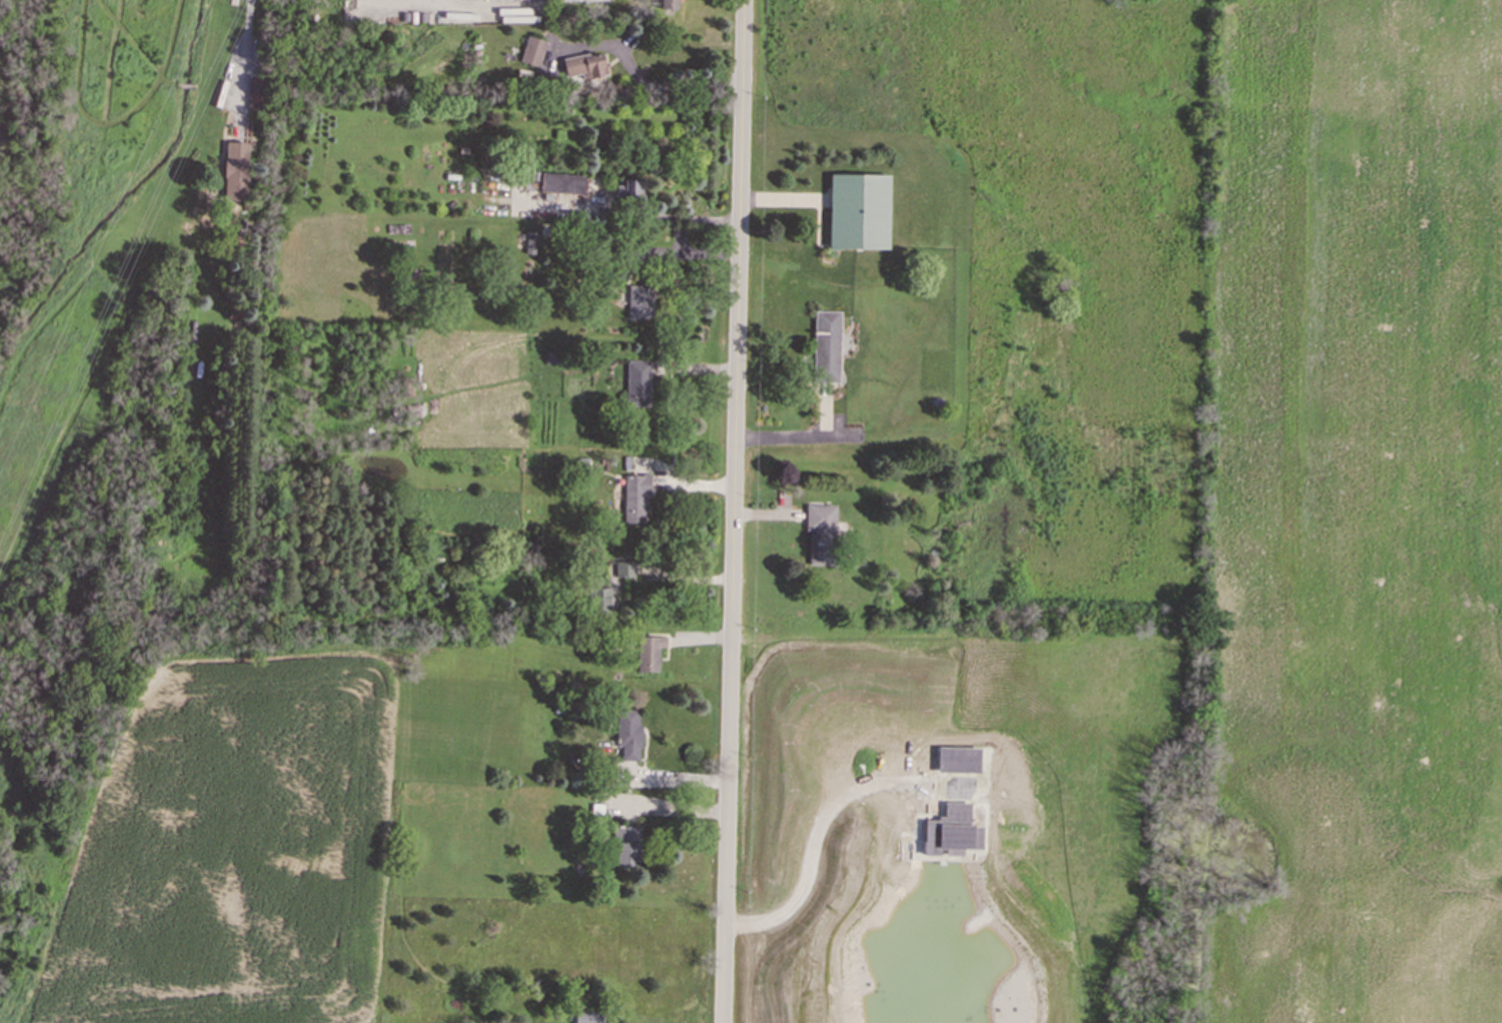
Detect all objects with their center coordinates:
building: (475, 0)
building: (668, 4)
road: (248, 40)
building: (532, 50)
building: (585, 64)
road: (674, 86)
building: (254, 93)
building: (235, 170)
building: (562, 183)
building: (630, 190)
building: (857, 210)
road: (632, 213)
building: (529, 243)
building: (639, 301)
building: (232, 313)
building: (825, 346)
building: (637, 382)
road: (800, 435)
building: (634, 497)
crop: (1364, 509)
road: (732, 511)
building: (819, 531)
building: (624, 569)
building: (598, 599)
building: (648, 652)
building: (627, 734)
road: (822, 840)
building: (626, 846)
crop: (238, 848)
building: (587, 1017)

